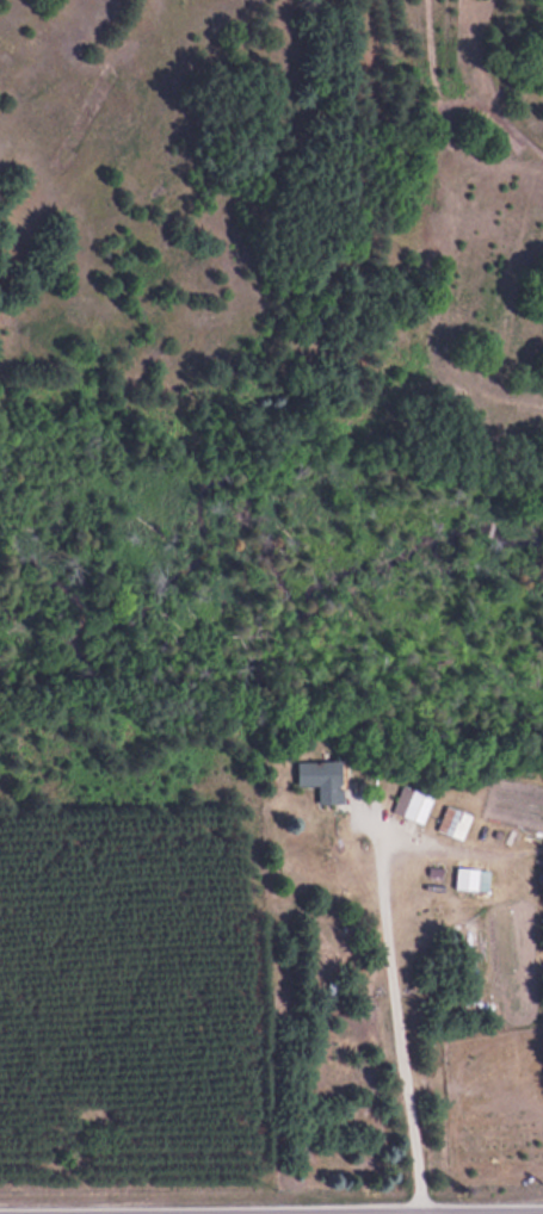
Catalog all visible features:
building: (323, 778)
building: (412, 803)
building: (452, 820)
road: (271, 1196)

